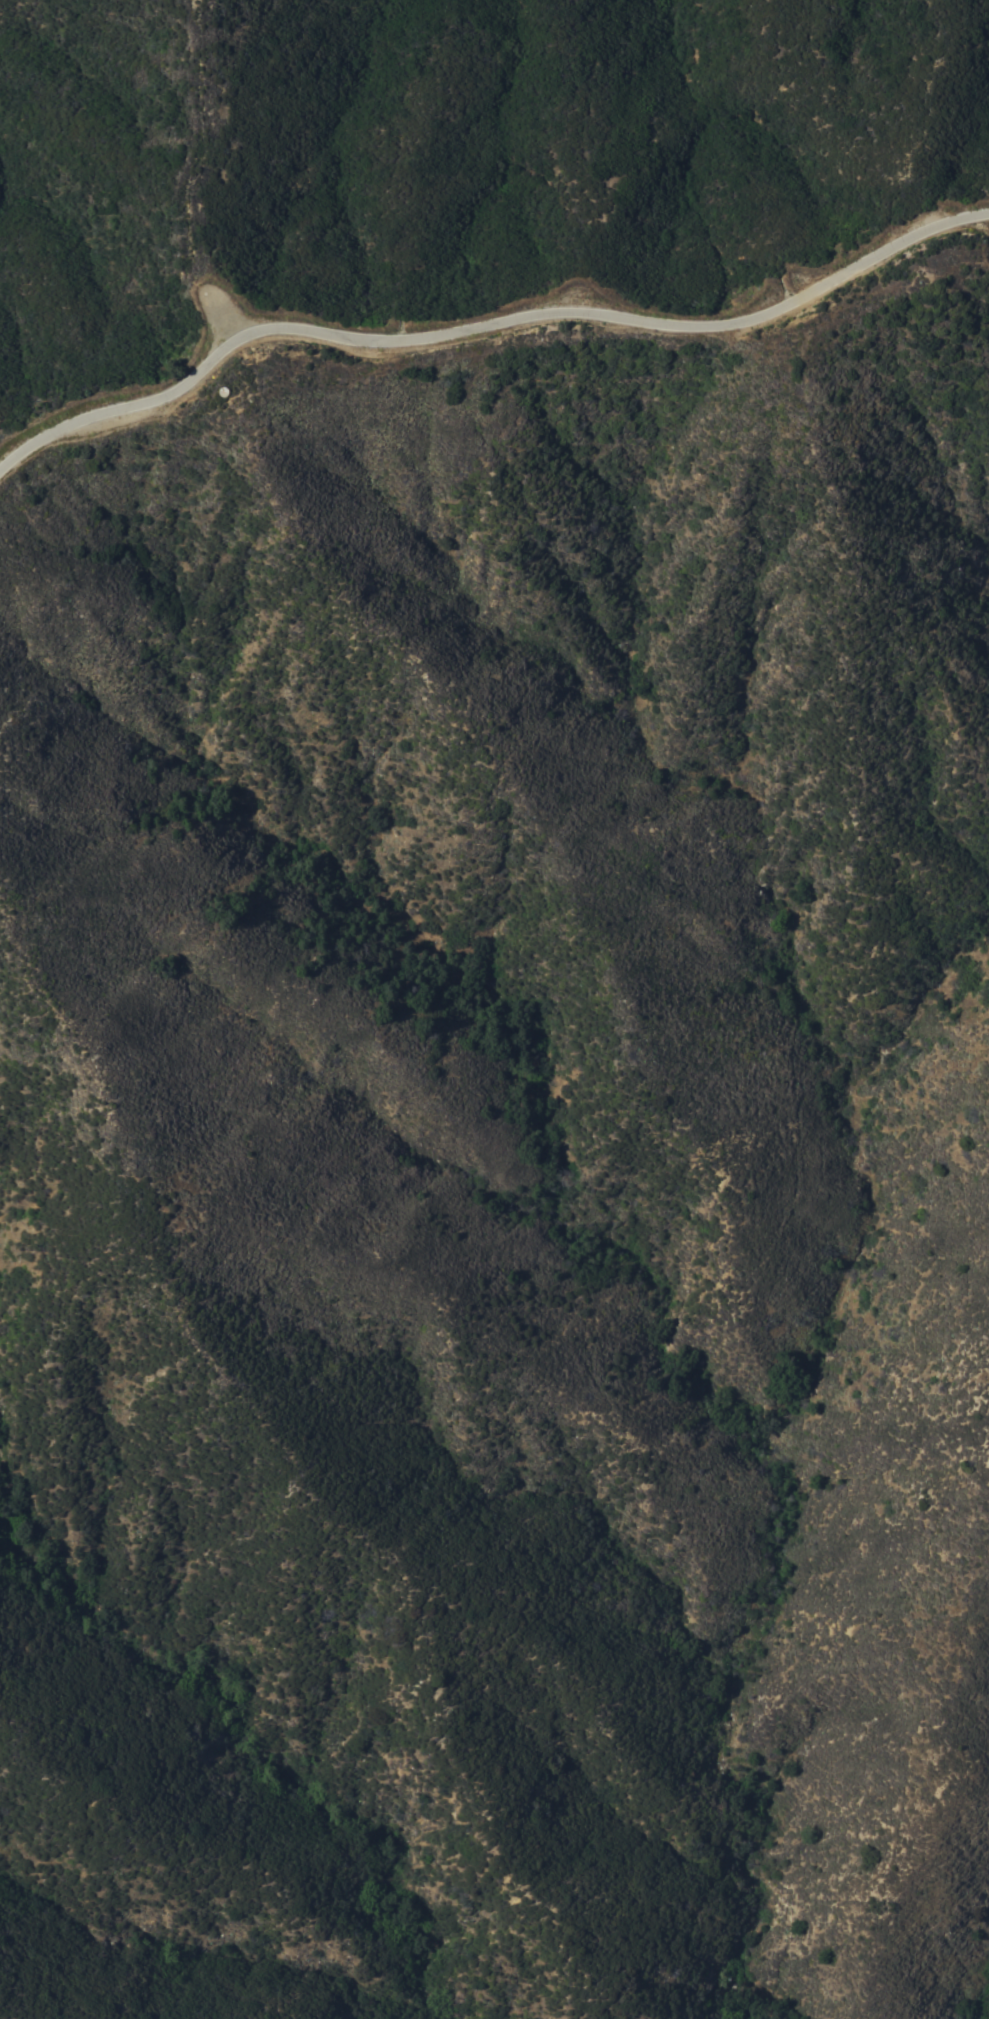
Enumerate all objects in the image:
road: (486, 322)

